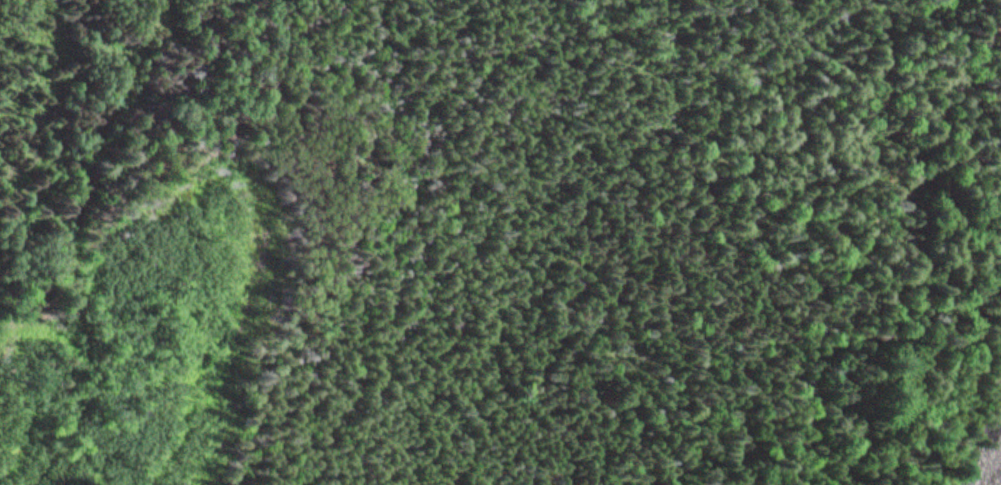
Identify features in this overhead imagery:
river: (998, 479)

